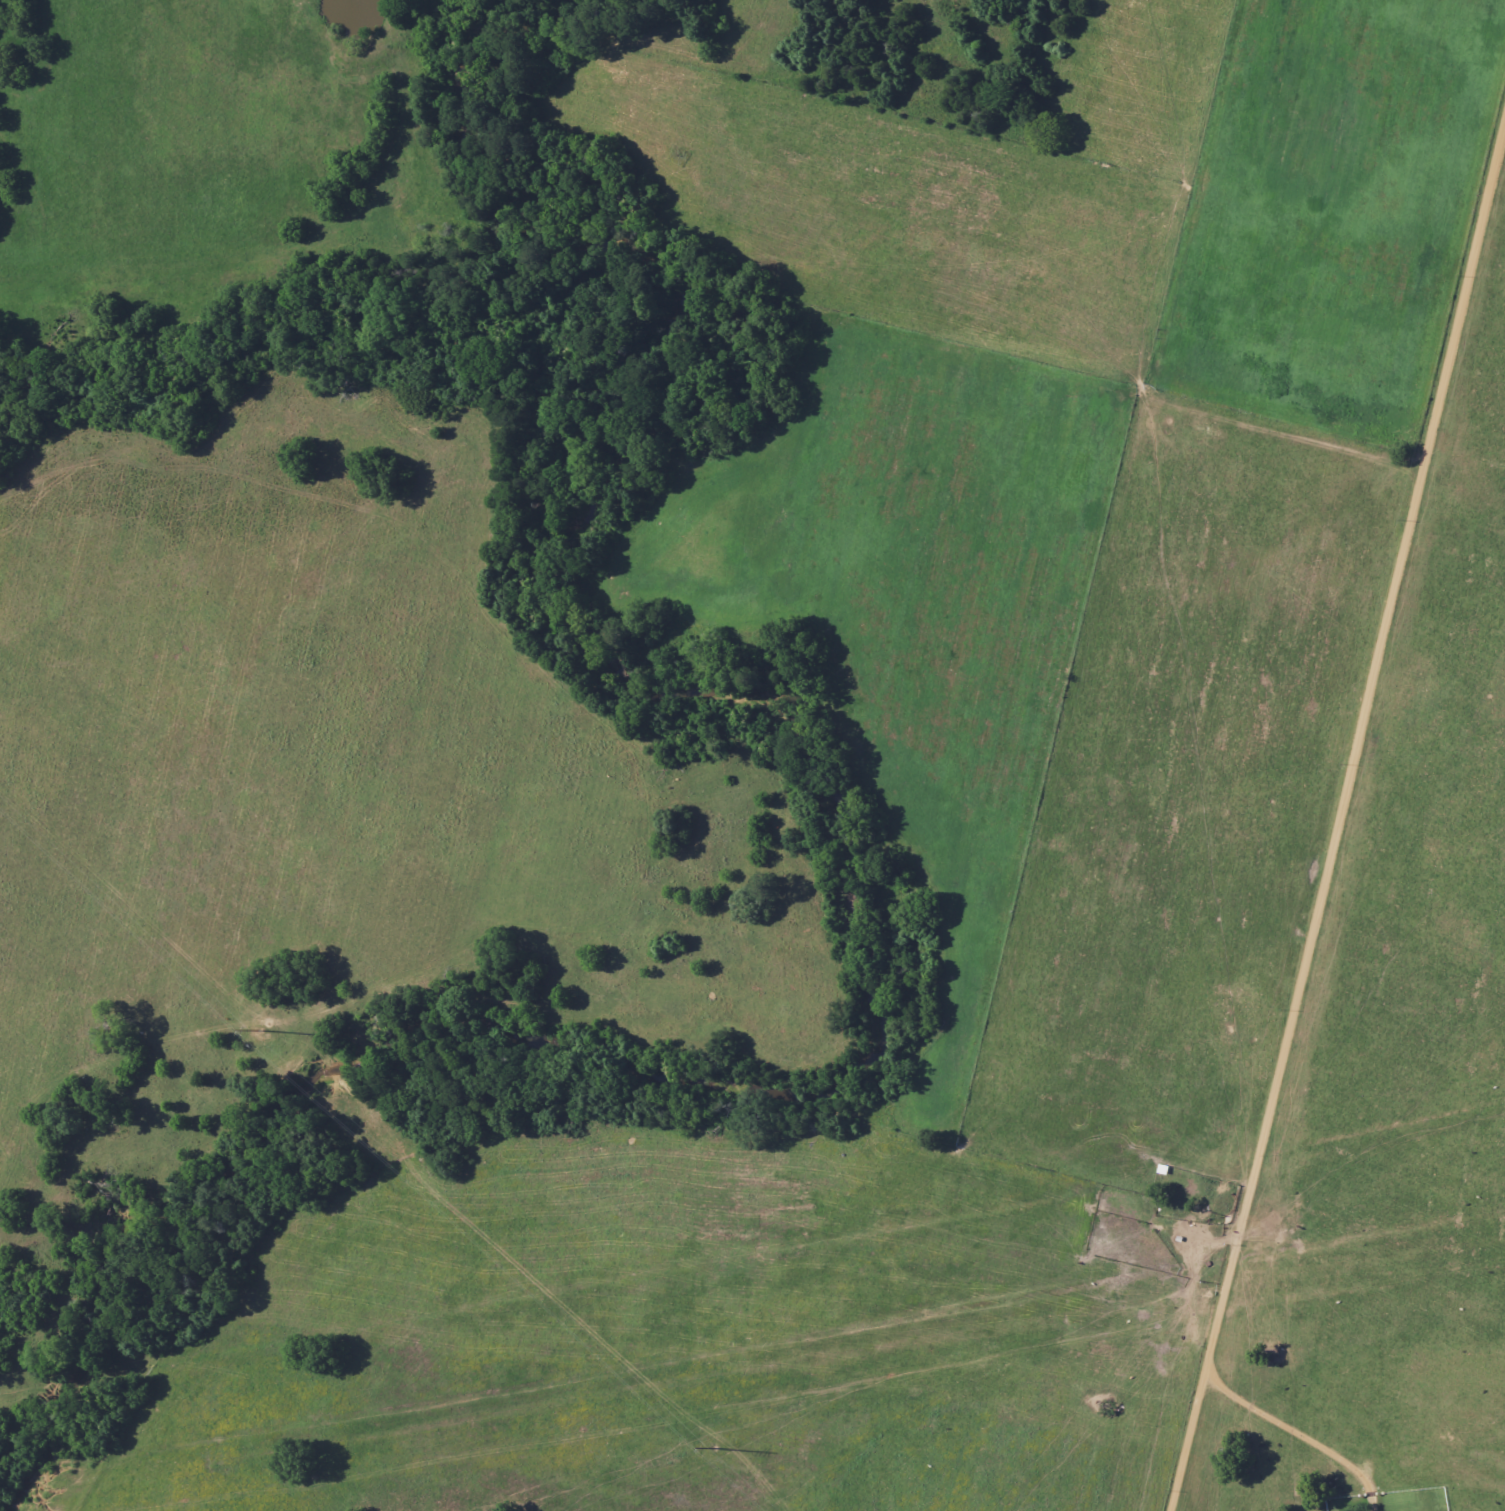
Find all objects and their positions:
road: (1338, 816)
power tower: (264, 1032)
road: (1297, 1435)
power tower: (713, 1445)

